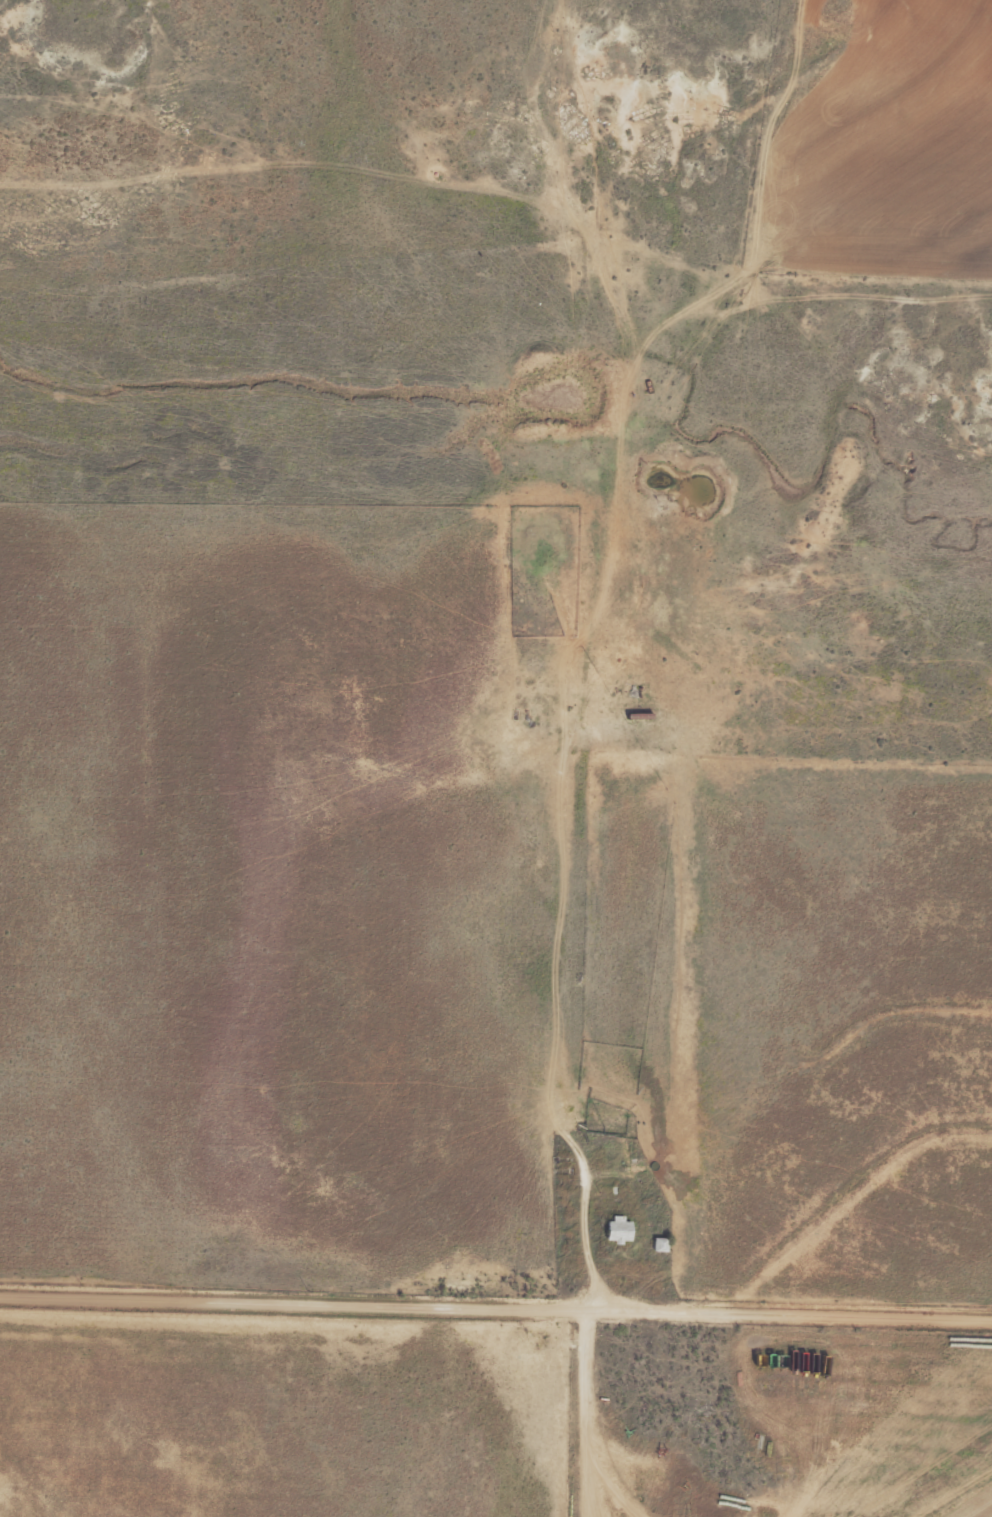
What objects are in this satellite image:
road: (570, 753)
building: (619, 1231)
road: (496, 1305)

